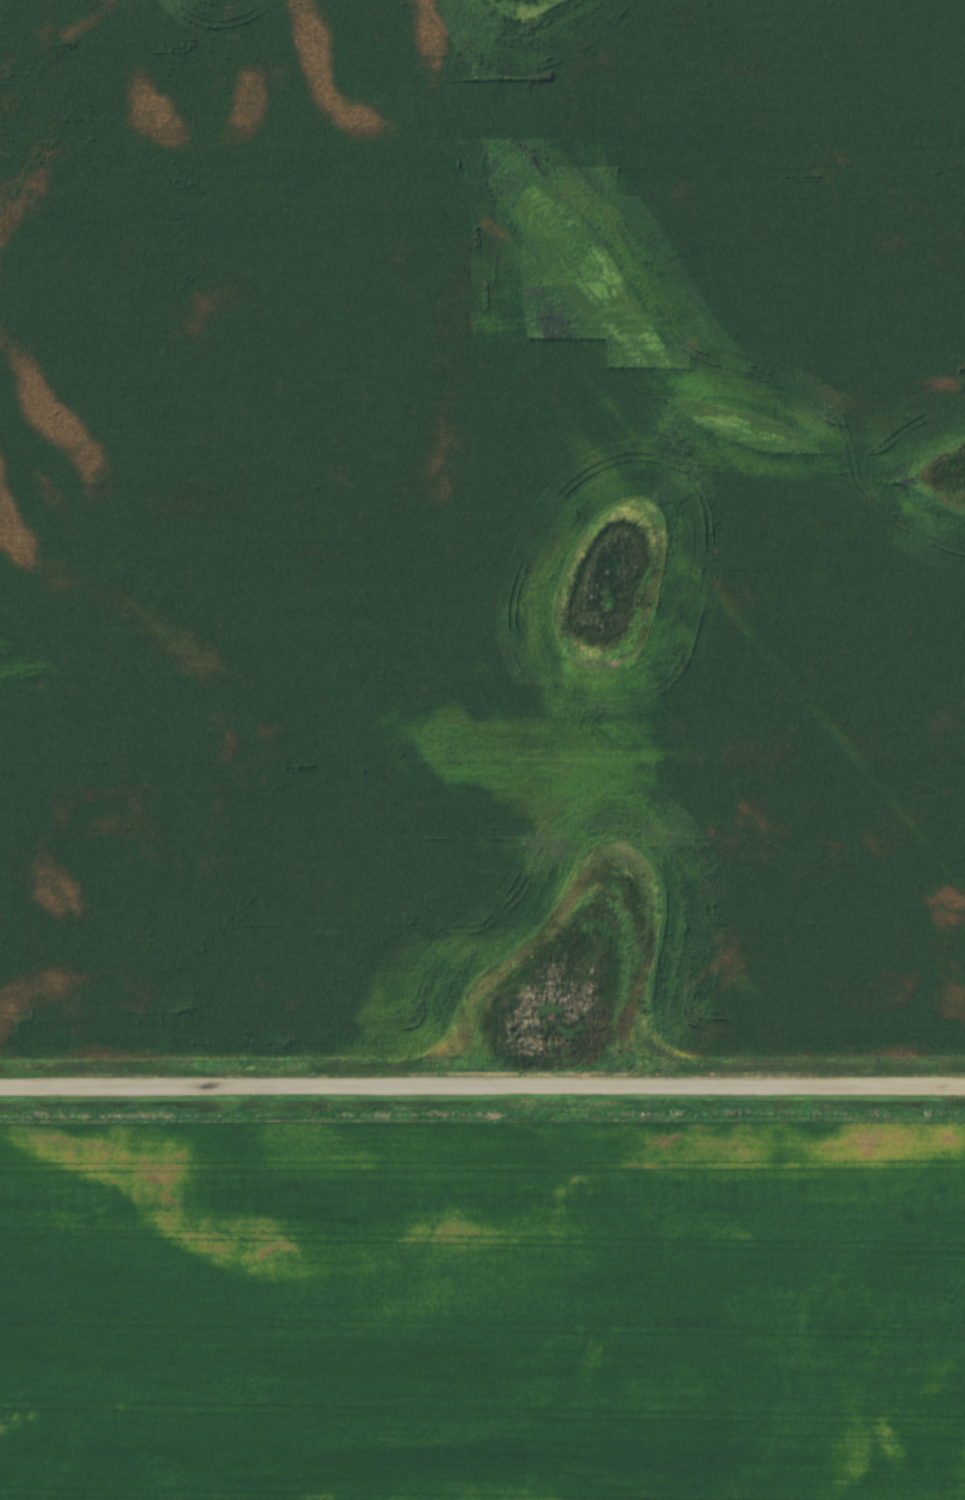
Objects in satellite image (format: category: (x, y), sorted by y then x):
road: (482, 1086)

